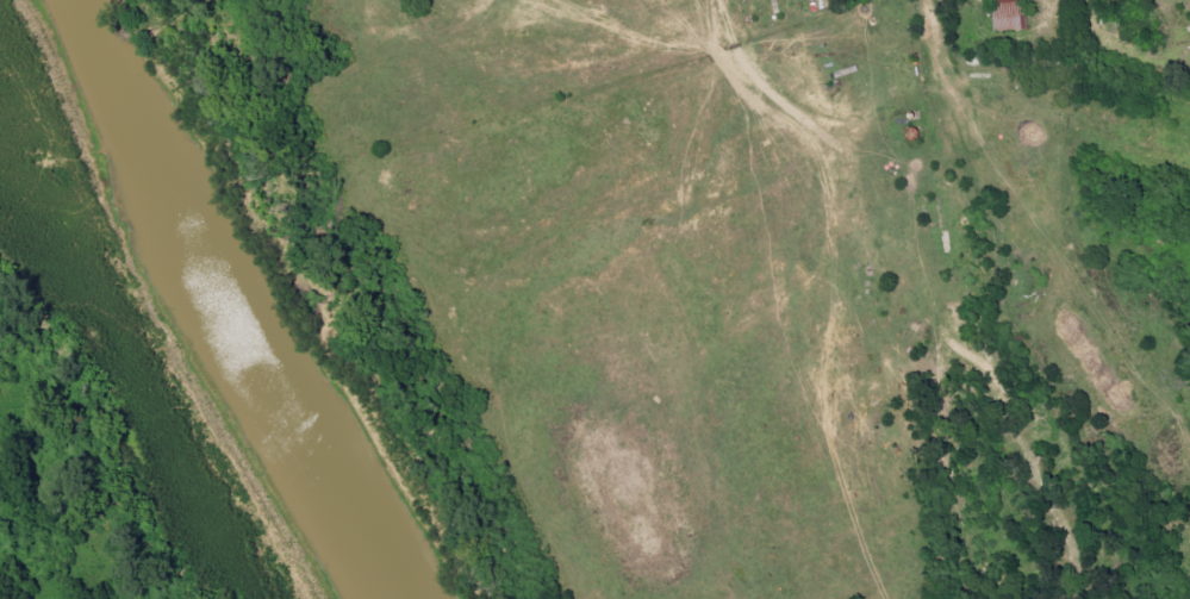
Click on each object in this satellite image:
building: (1013, 14)
road: (854, 37)
road: (590, 255)

